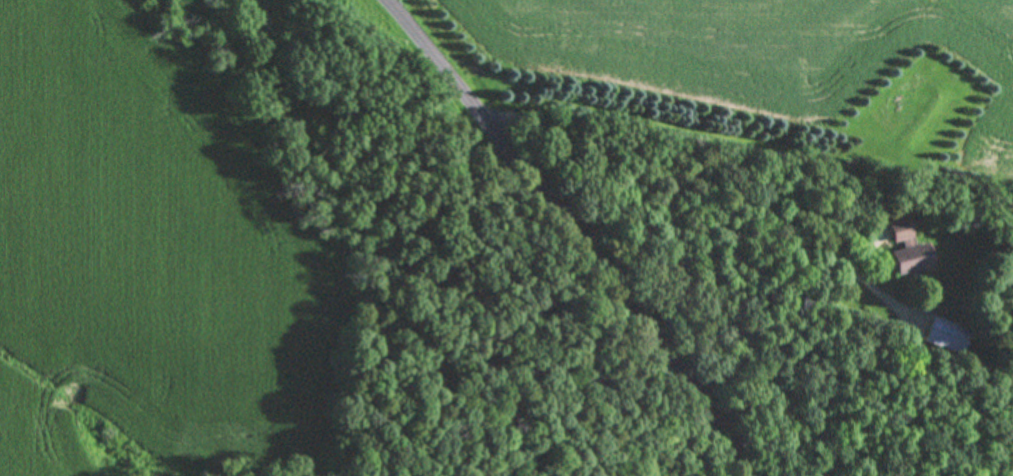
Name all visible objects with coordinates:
road: (561, 246)
building: (903, 250)
building: (945, 338)

